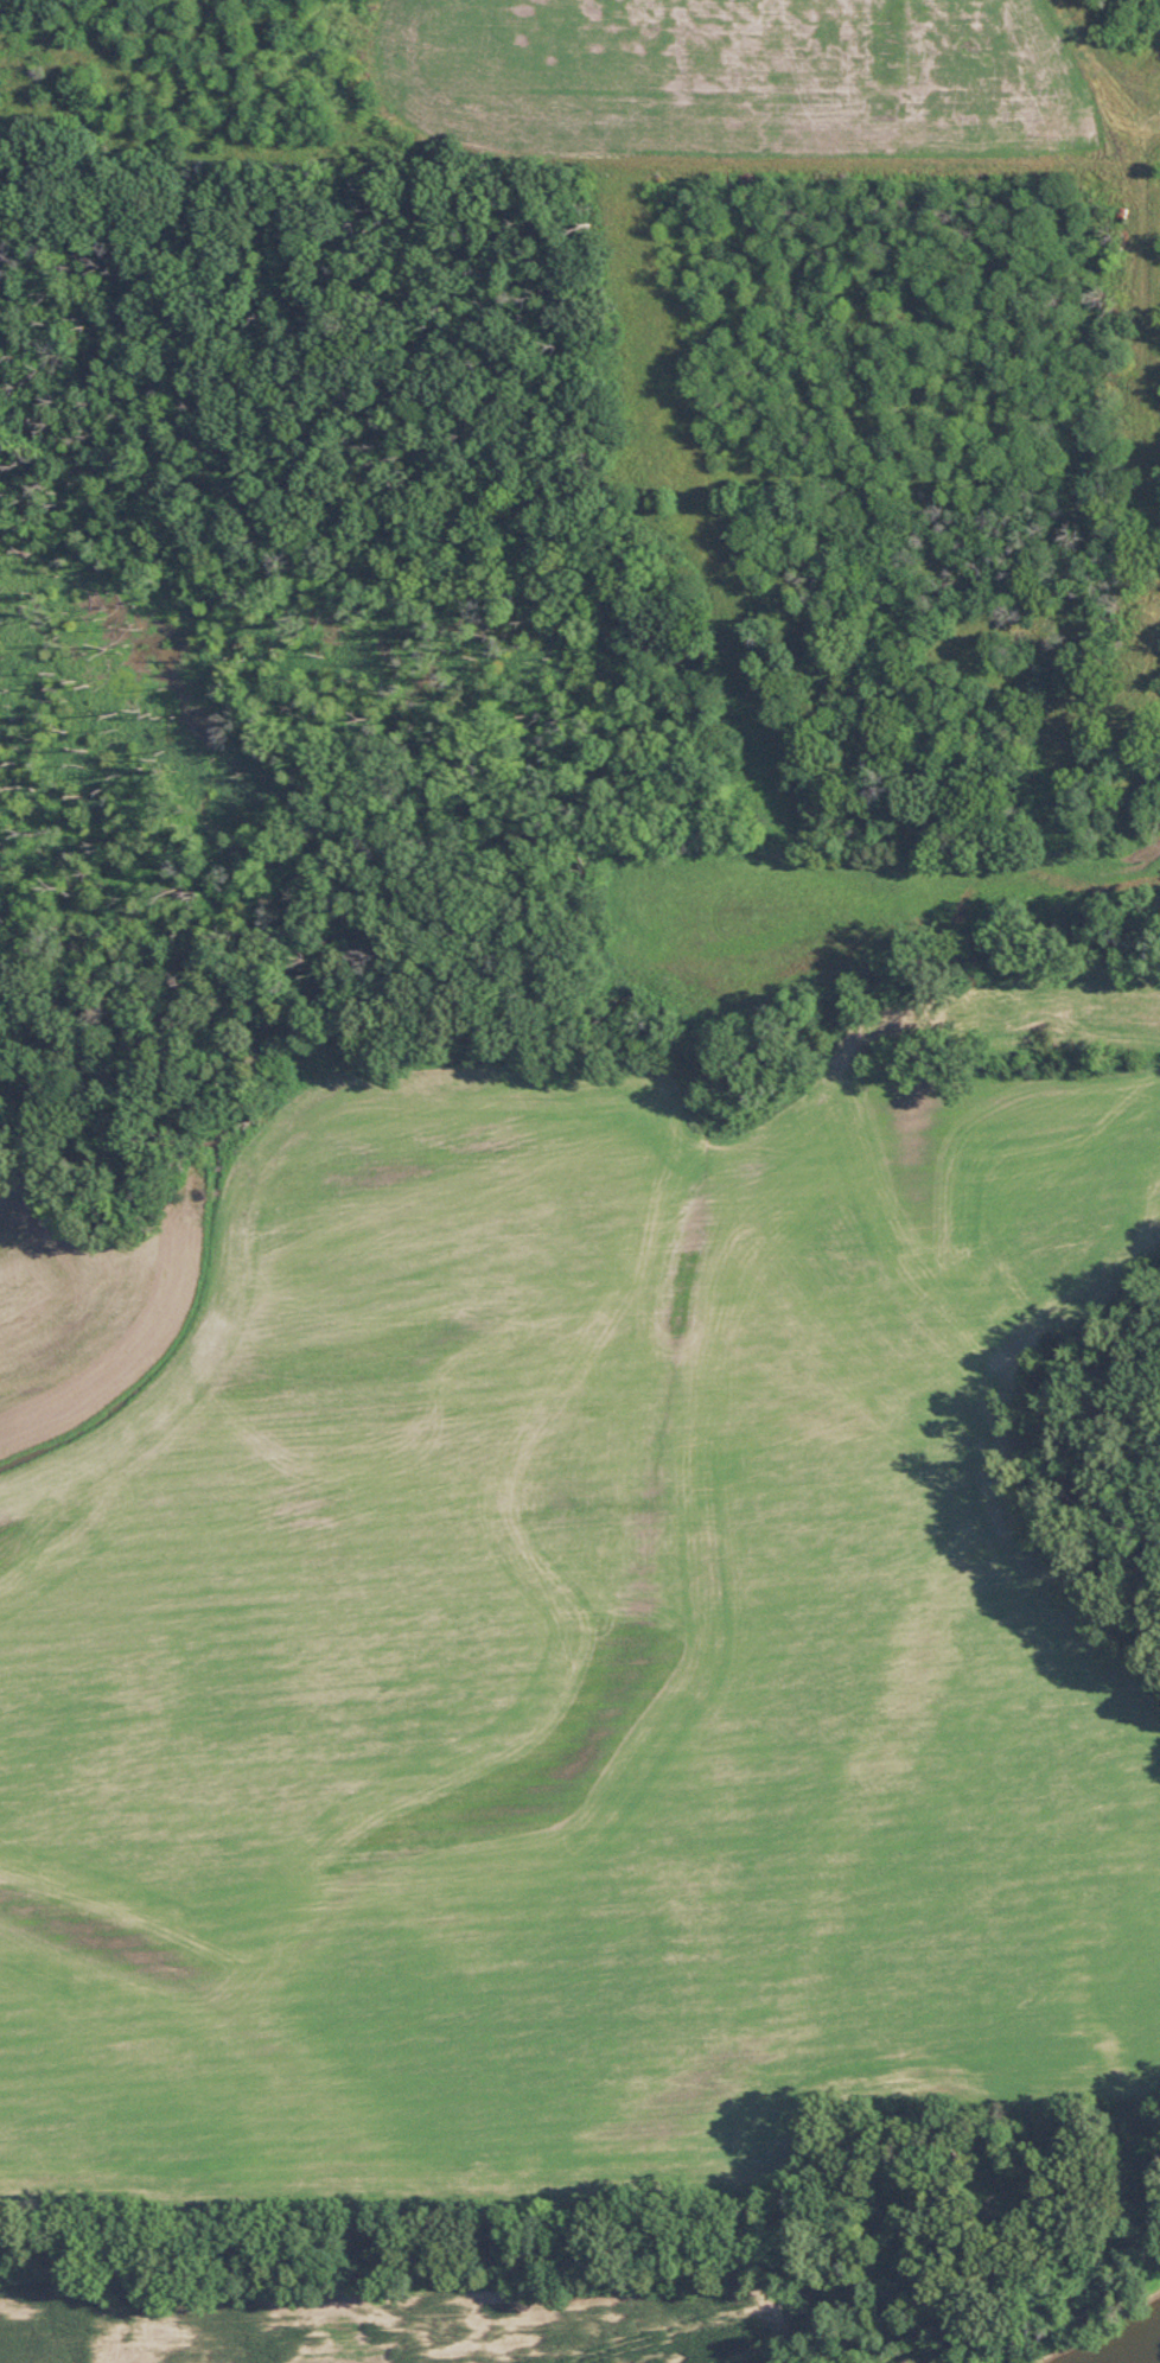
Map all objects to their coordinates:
river: (1147, 2355)

